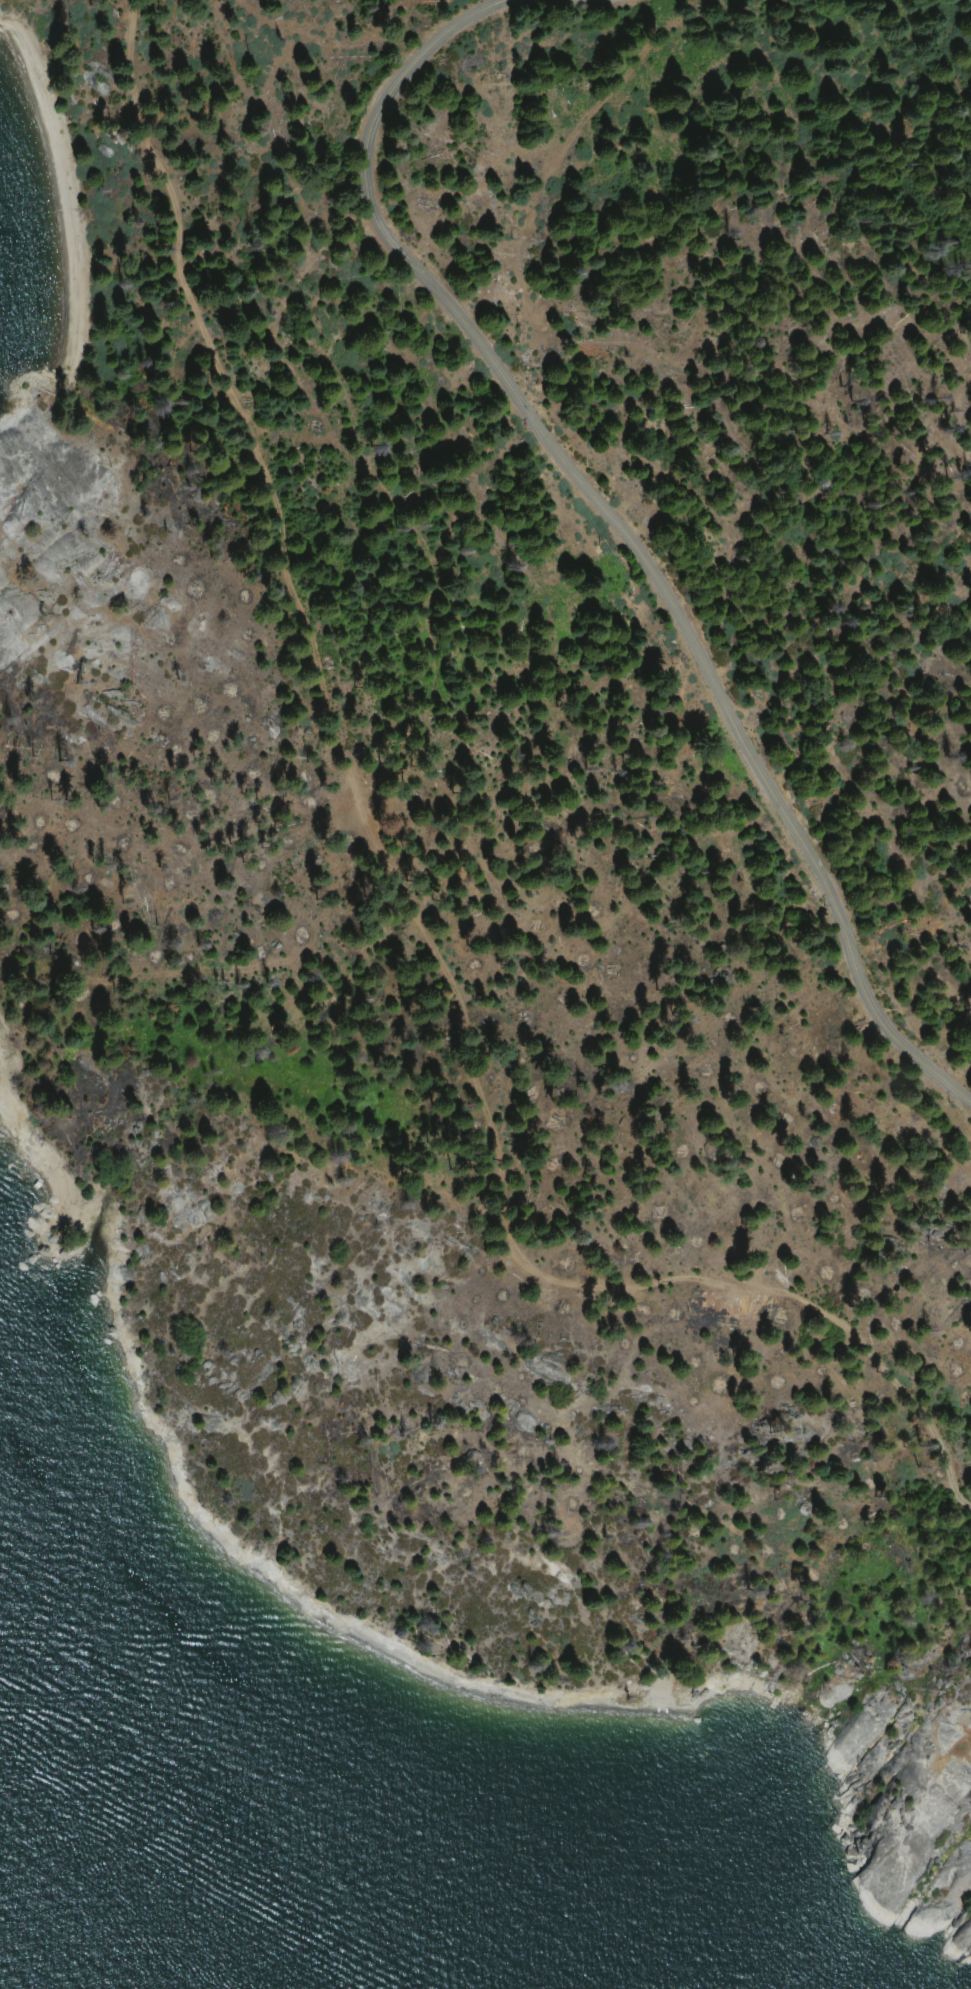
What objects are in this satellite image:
road: (612, 528)
road: (405, 895)

